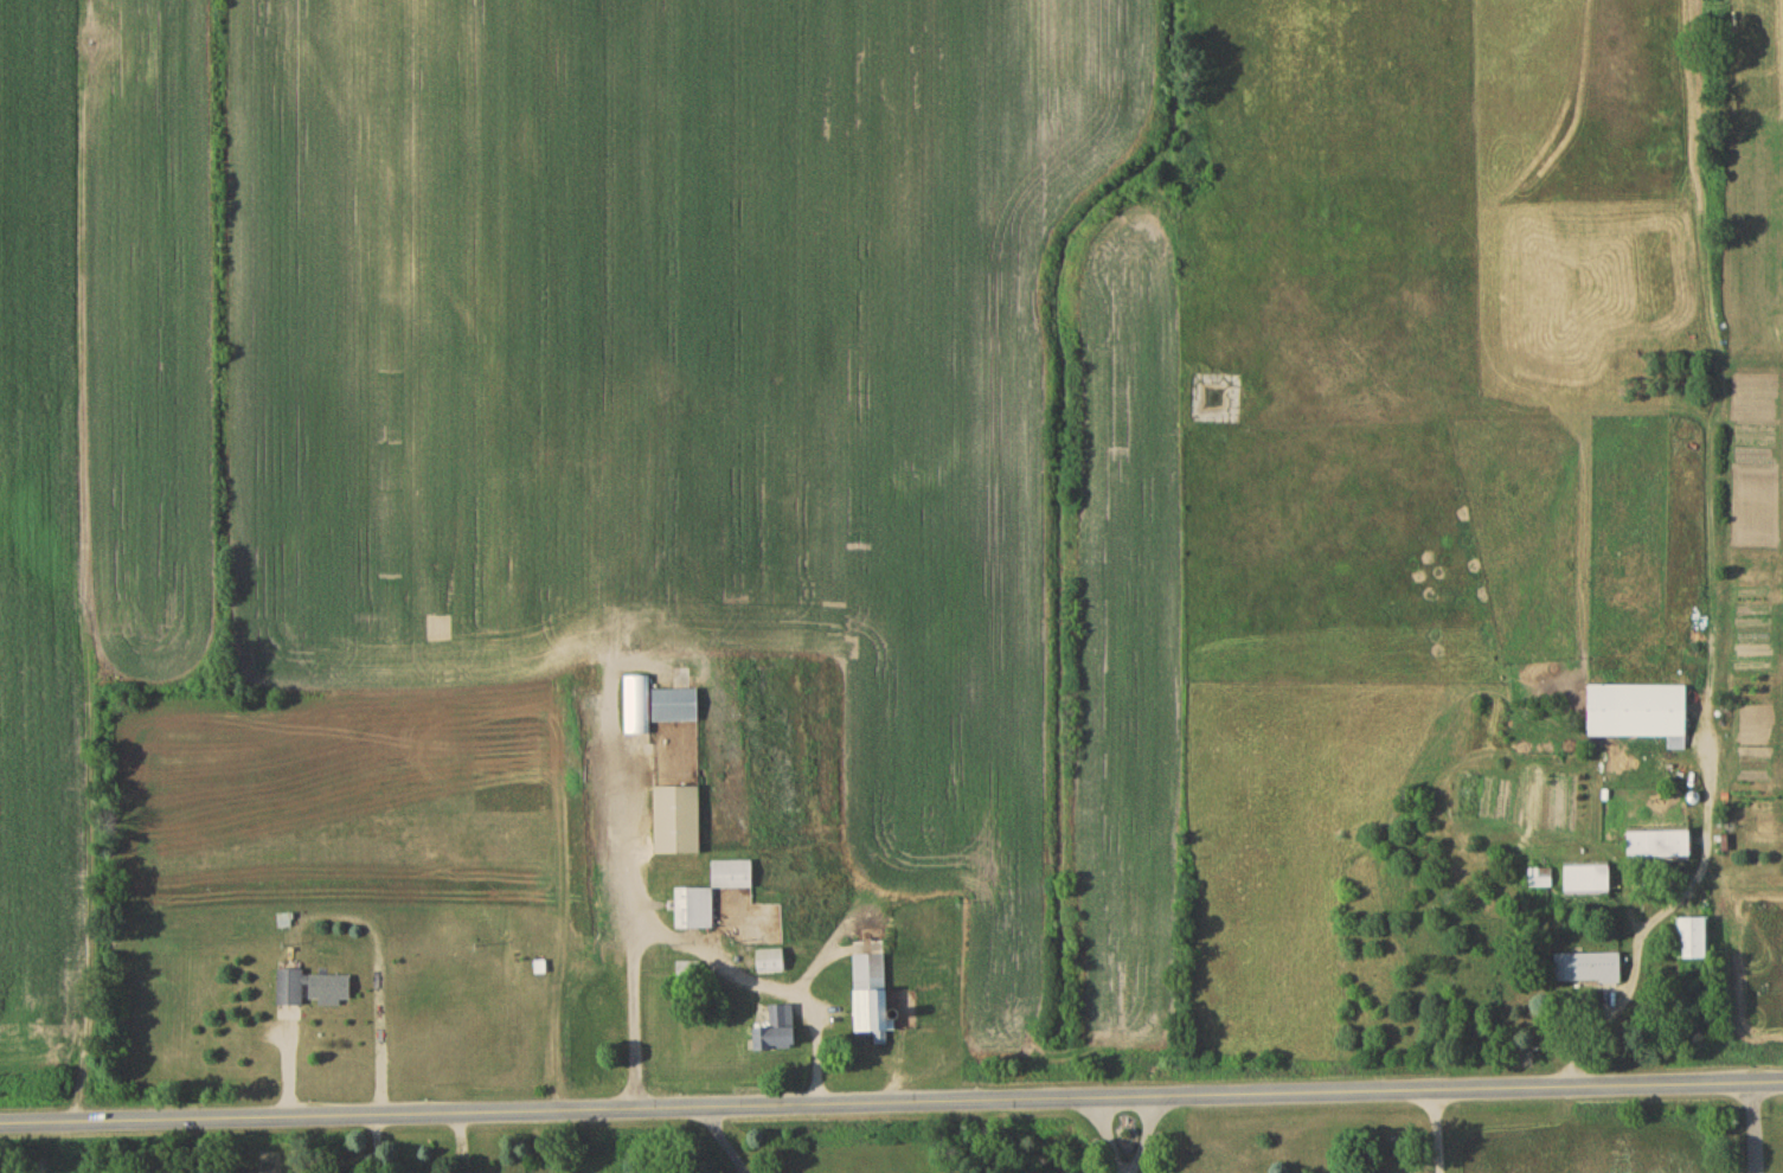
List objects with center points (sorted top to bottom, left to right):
building: (676, 707)
building: (1640, 713)
building: (679, 823)
building: (1662, 848)
building: (1589, 882)
building: (712, 897)
building: (1694, 942)
road: (698, 953)
building: (771, 963)
building: (1590, 972)
building: (313, 992)
building: (873, 1000)
road: (636, 1015)
building: (781, 1033)
road: (891, 1102)
road: (1755, 1128)
road: (1437, 1132)
road: (1105, 1135)
road: (1147, 1135)
road: (720, 1140)
road: (378, 1143)

